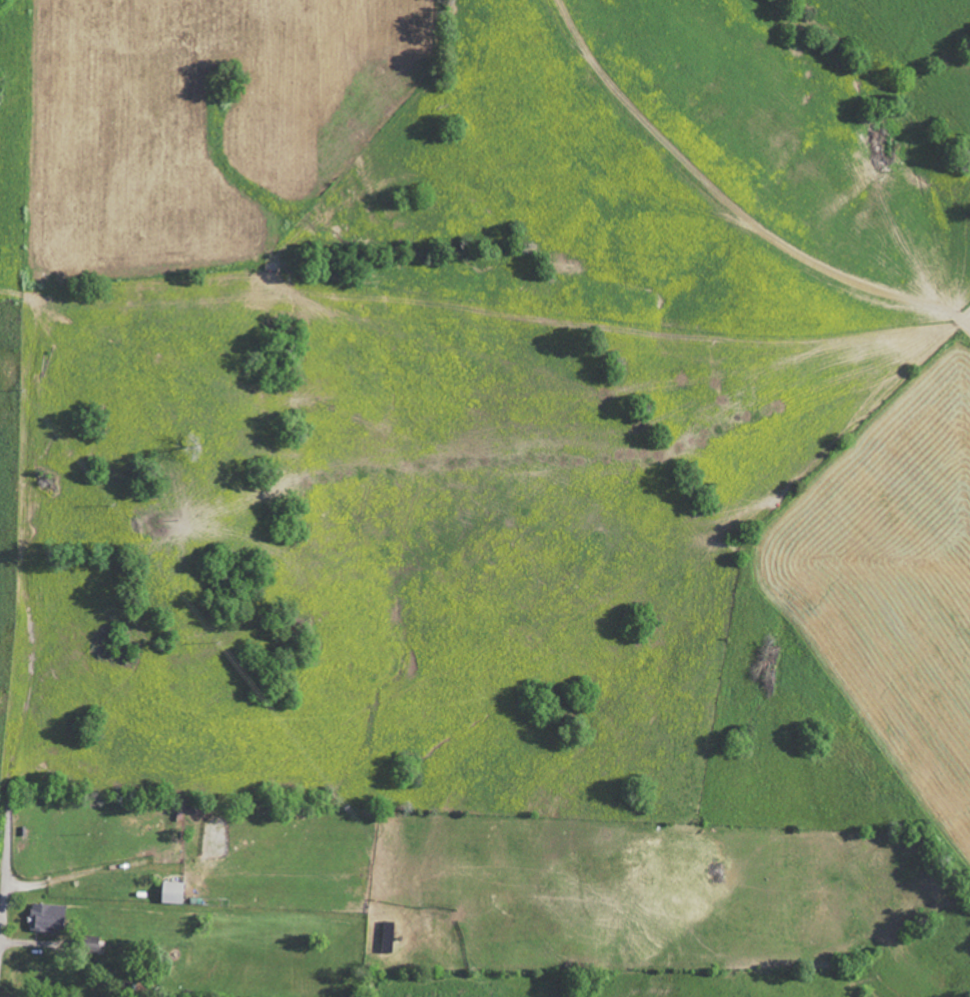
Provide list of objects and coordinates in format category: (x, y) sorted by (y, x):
road: (6, 884)
building: (171, 891)
building: (46, 917)
building: (89, 943)

